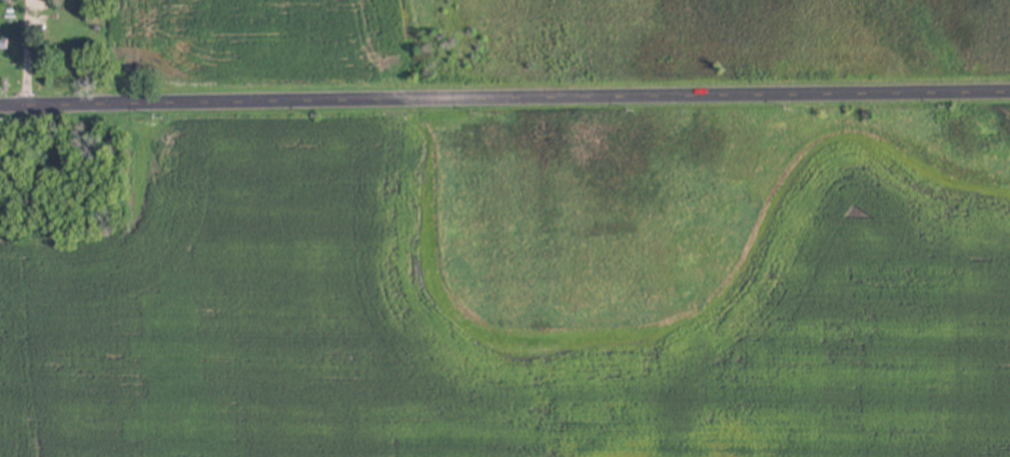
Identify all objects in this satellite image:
building: (3, 45)
road: (28, 53)
road: (505, 102)

